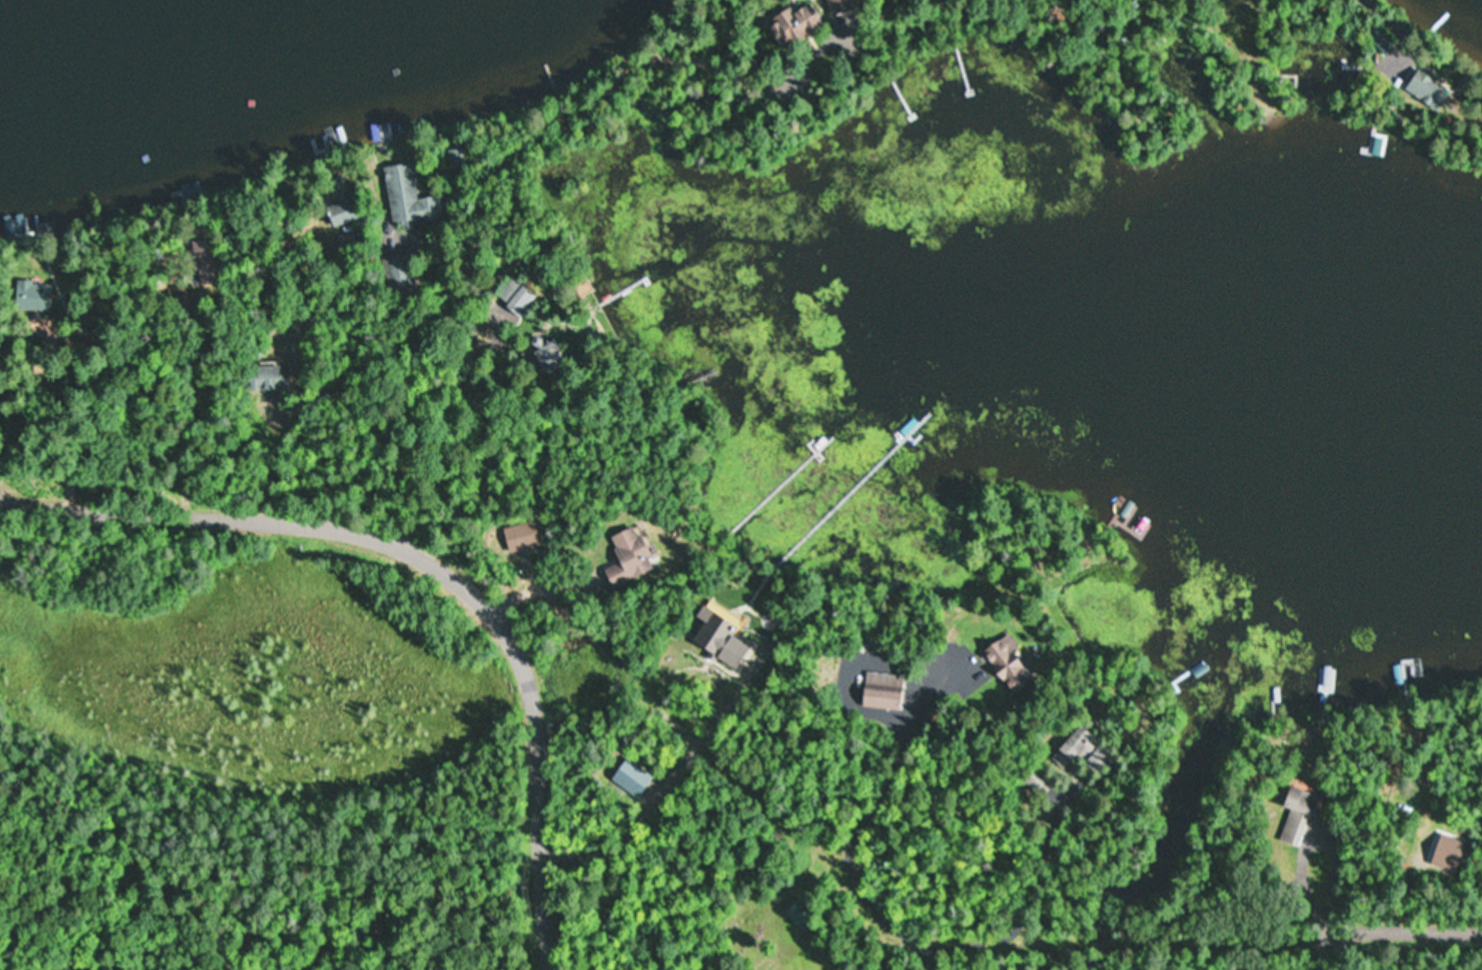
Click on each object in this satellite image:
building: (839, 6)
building: (791, 25)
building: (1381, 42)
building: (1426, 90)
building: (406, 198)
building: (338, 213)
building: (203, 256)
building: (400, 273)
building: (32, 296)
building: (512, 302)
building: (610, 305)
building: (262, 378)
road: (312, 383)
building: (628, 557)
road: (432, 563)
building: (718, 638)
building: (1006, 664)
building: (882, 690)
building: (1087, 749)
road: (736, 764)
building: (1038, 780)
building: (1297, 813)
building: (797, 912)
road: (1196, 929)

